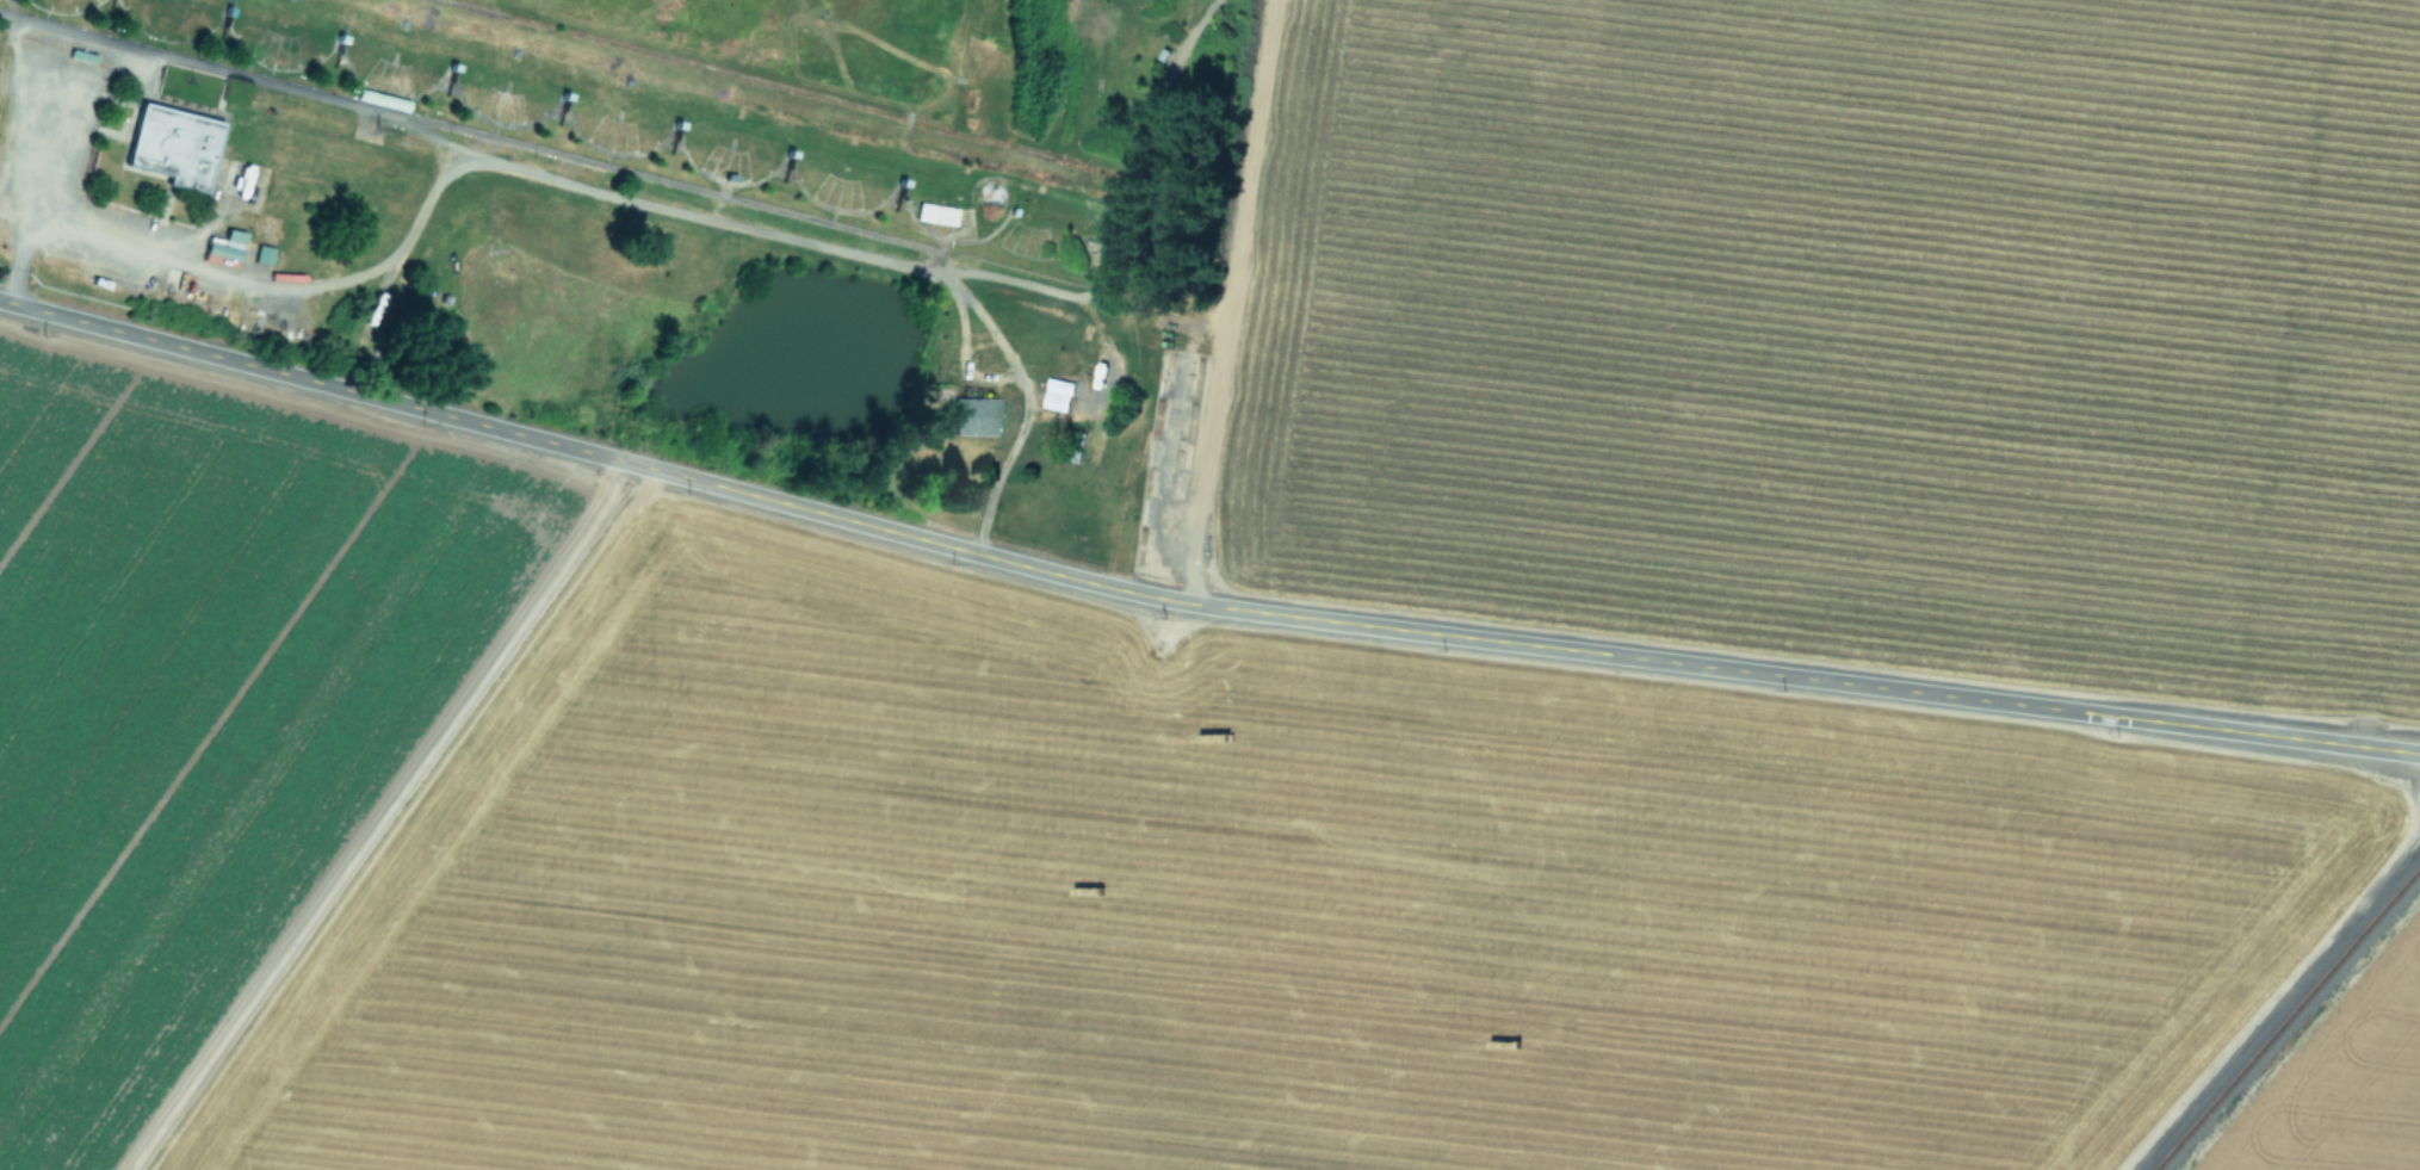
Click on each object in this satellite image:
road: (249, 76)
road: (32, 106)
building: (172, 148)
road: (570, 185)
building: (936, 216)
building: (223, 250)
building: (262, 256)
crop: (1397, 266)
building: (1057, 397)
building: (973, 419)
building: (1076, 445)
road: (1195, 605)
crop: (968, 873)
railway: (2288, 1019)
crop: (2358, 1095)

